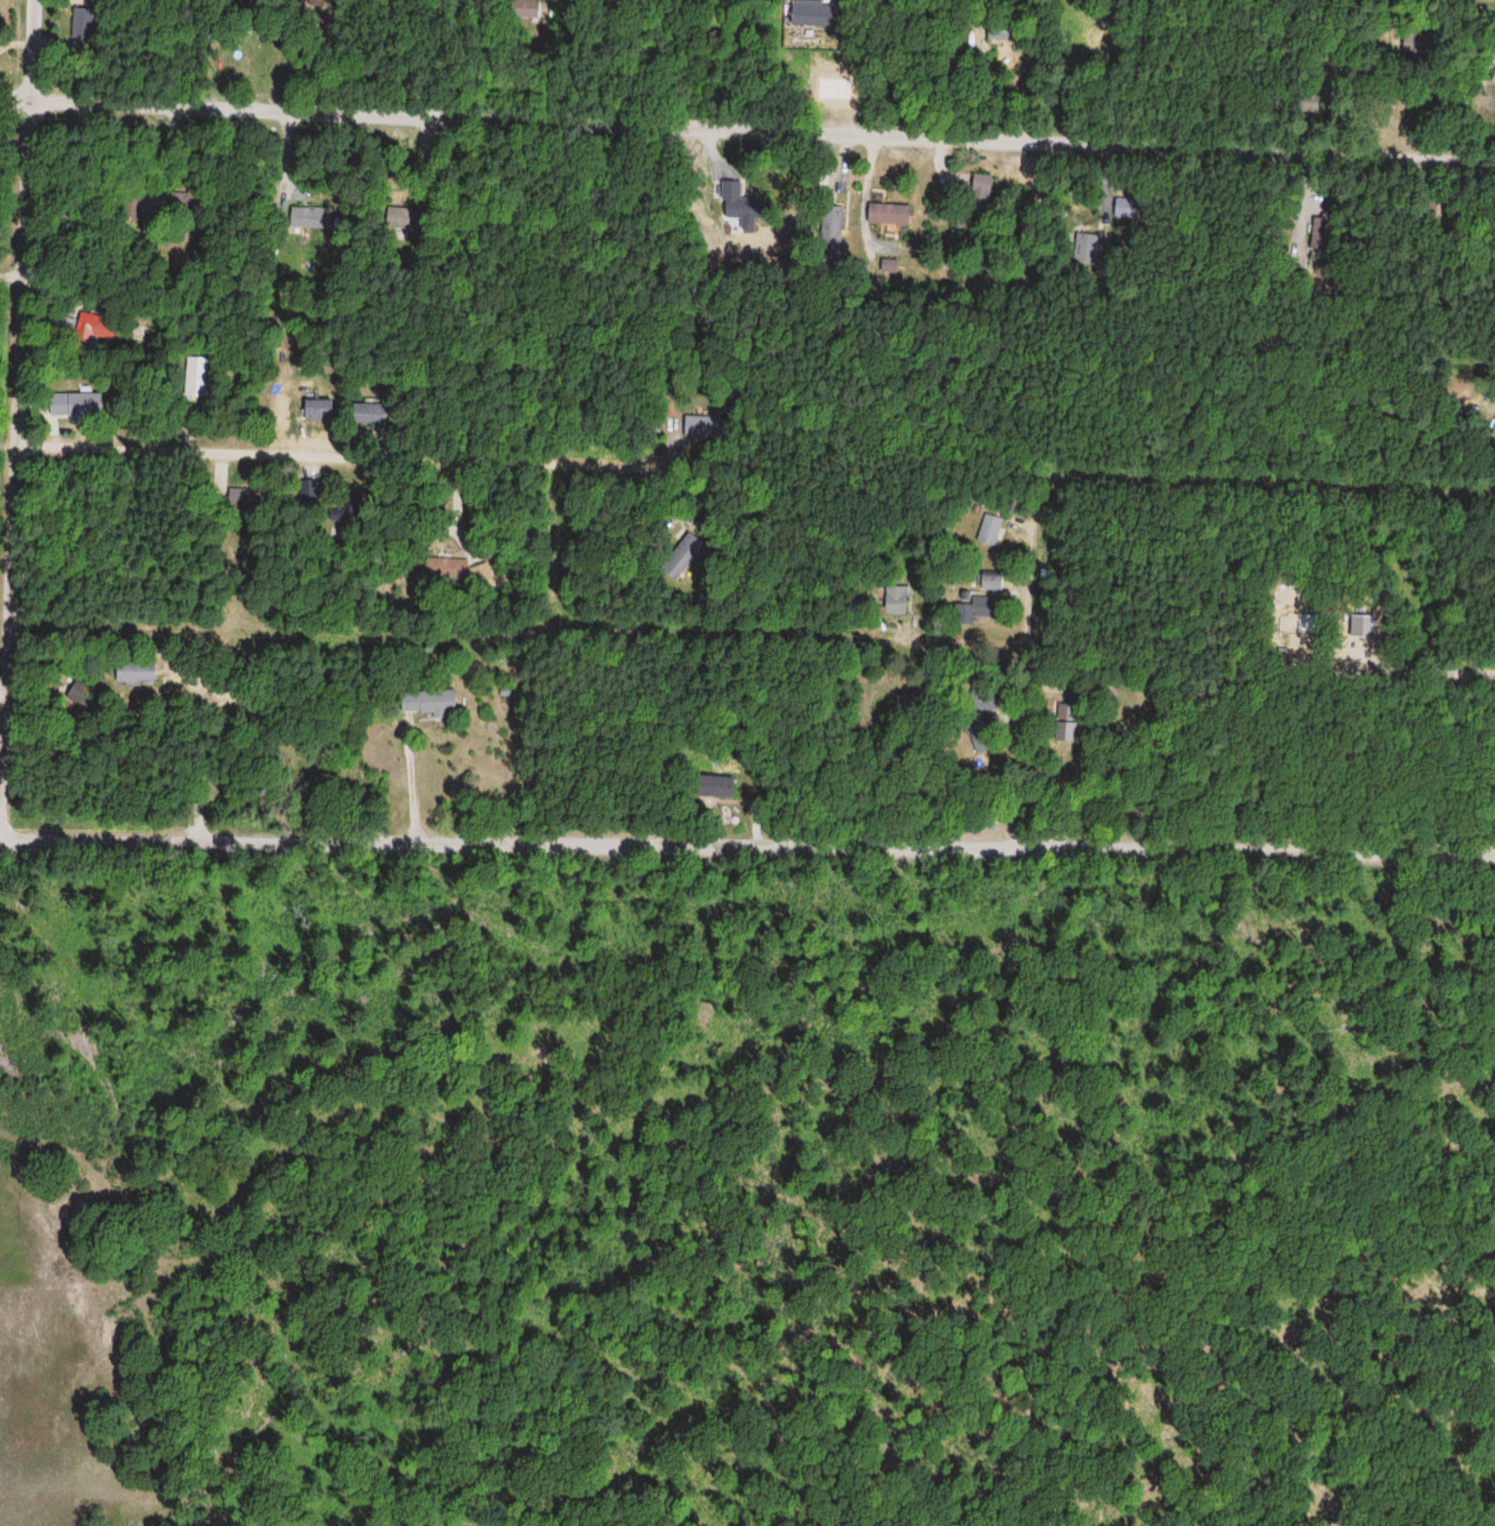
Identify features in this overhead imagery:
building: (810, 13)
building: (80, 23)
building: (998, 33)
road: (13, 113)
road: (760, 126)
building: (982, 192)
building: (886, 213)
building: (831, 223)
building: (1329, 230)
road: (13, 276)
building: (98, 325)
building: (197, 377)
building: (74, 401)
building: (316, 409)
road: (26, 415)
building: (1494, 430)
road: (531, 462)
building: (309, 490)
building: (241, 499)
road: (548, 521)
building: (989, 529)
building: (988, 582)
building: (895, 599)
building: (975, 609)
road: (829, 650)
road: (317, 652)
road: (1038, 662)
building: (139, 673)
building: (427, 702)
building: (1066, 722)
building: (715, 786)
road: (747, 833)

